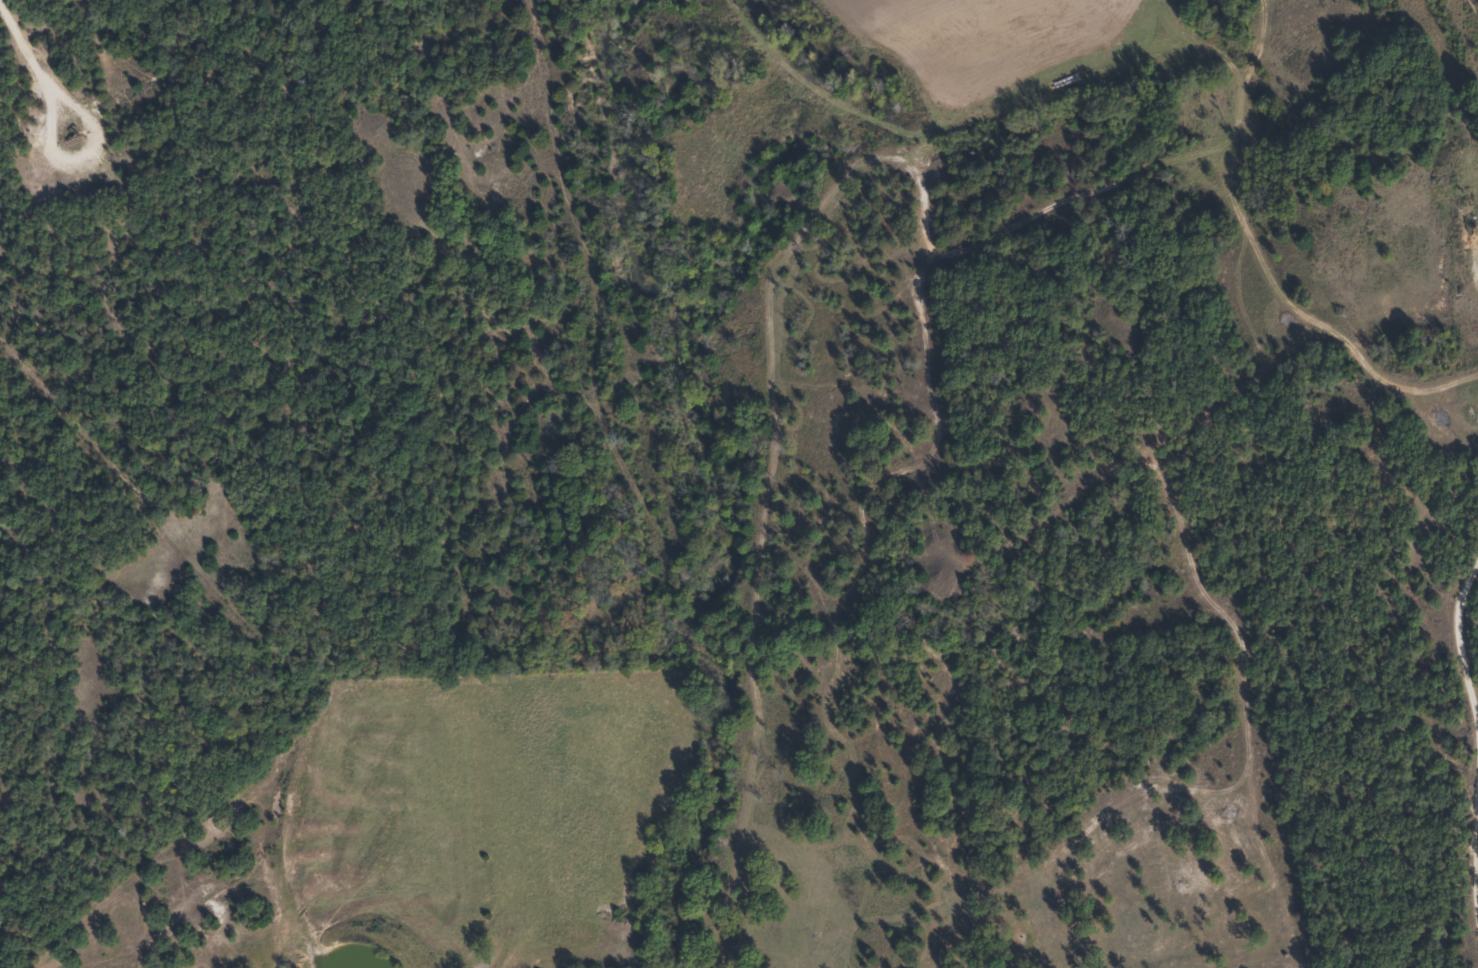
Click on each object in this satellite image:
road: (44, 59)
road: (1477, 608)

